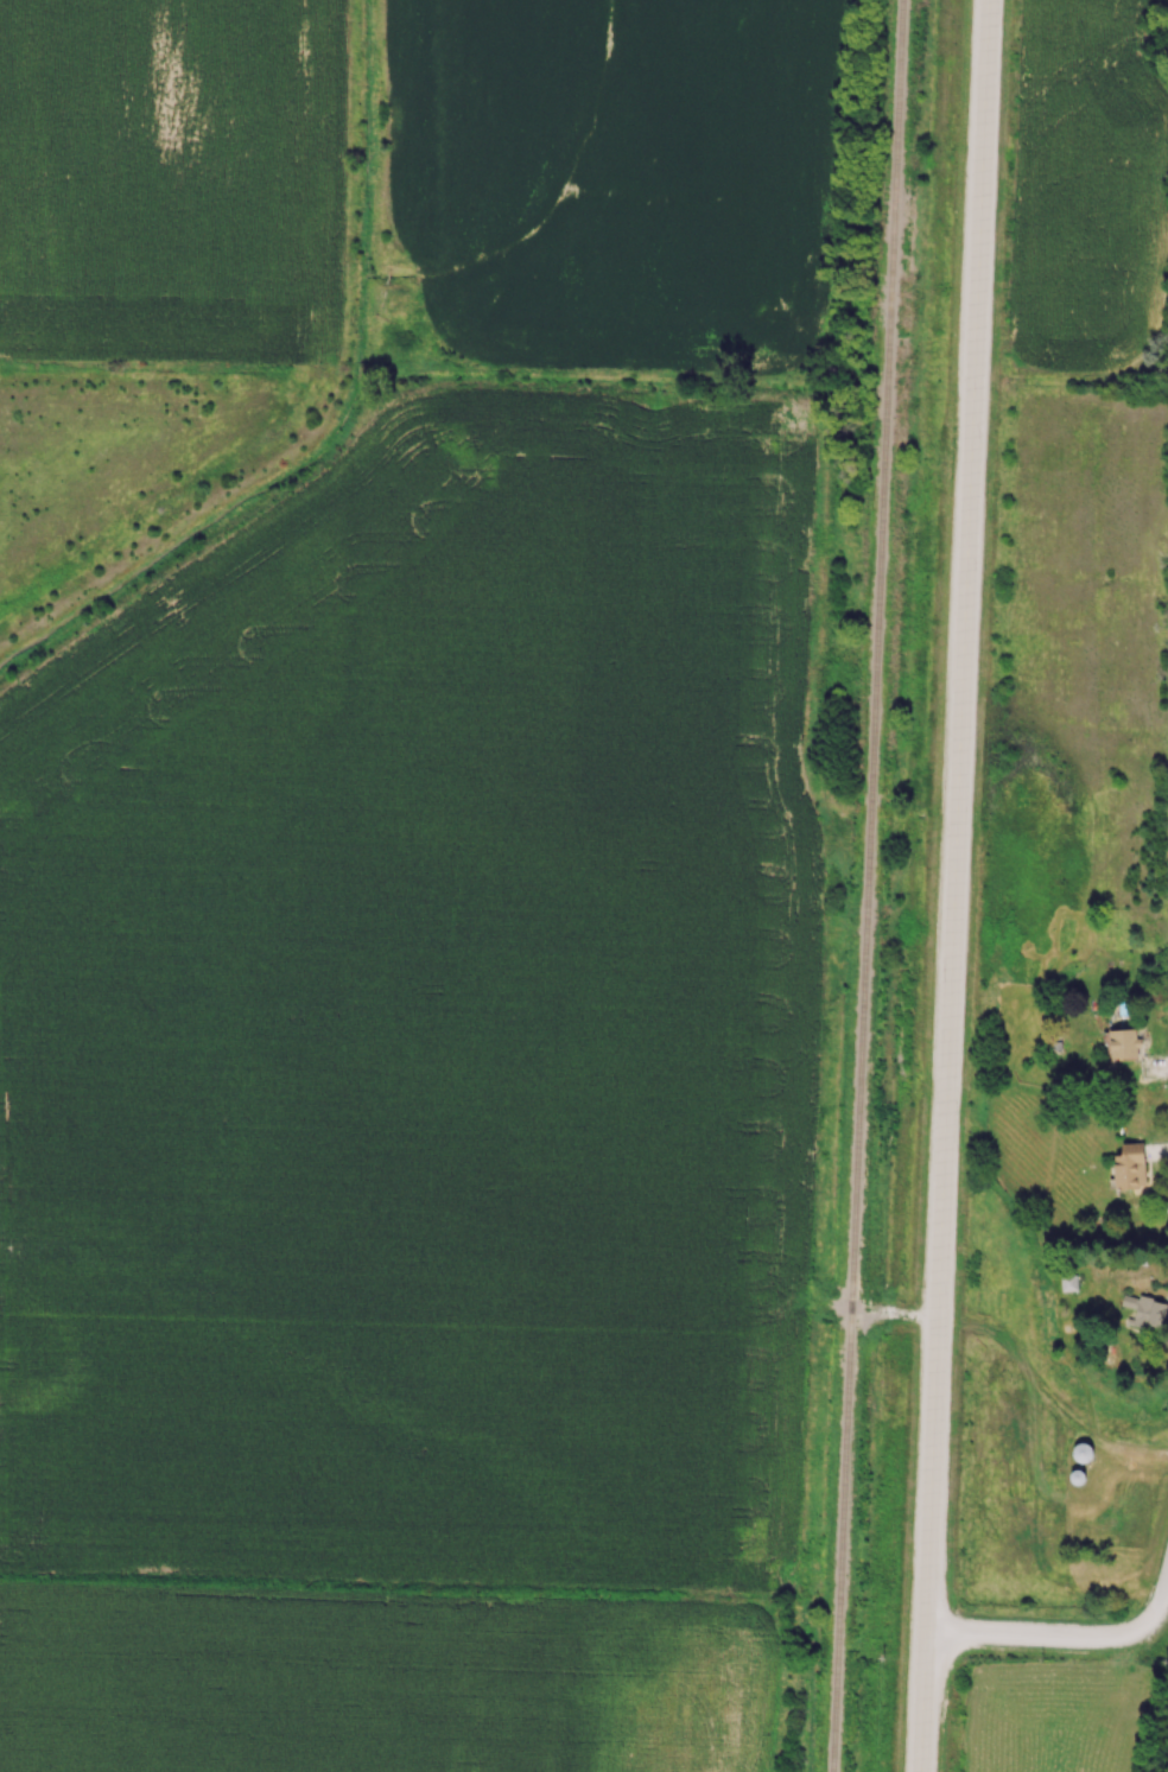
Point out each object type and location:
railway: (867, 885)
road: (946, 885)
building: (1126, 1046)
building: (1134, 1169)
building: (1071, 1285)
building: (1148, 1313)
building: (1085, 1455)
road: (1074, 1638)

